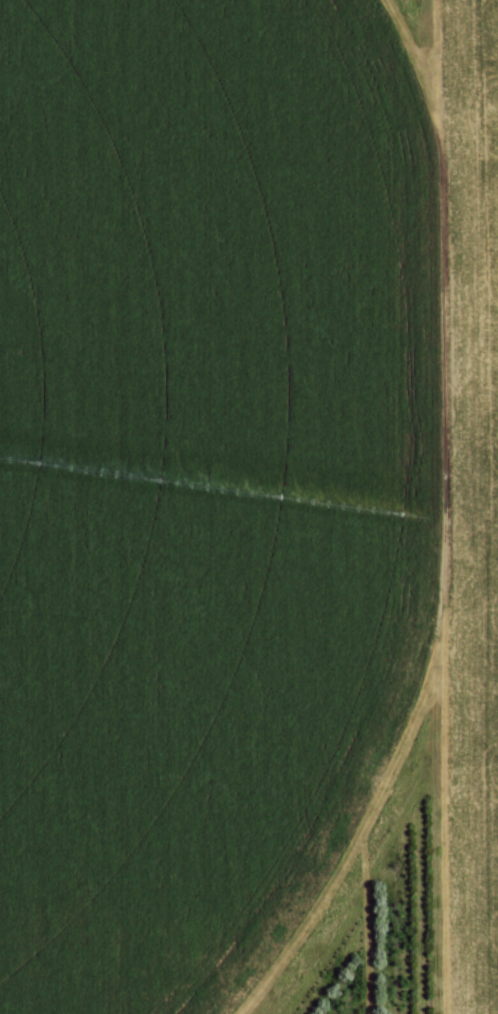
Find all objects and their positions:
crop: (238, 482)

